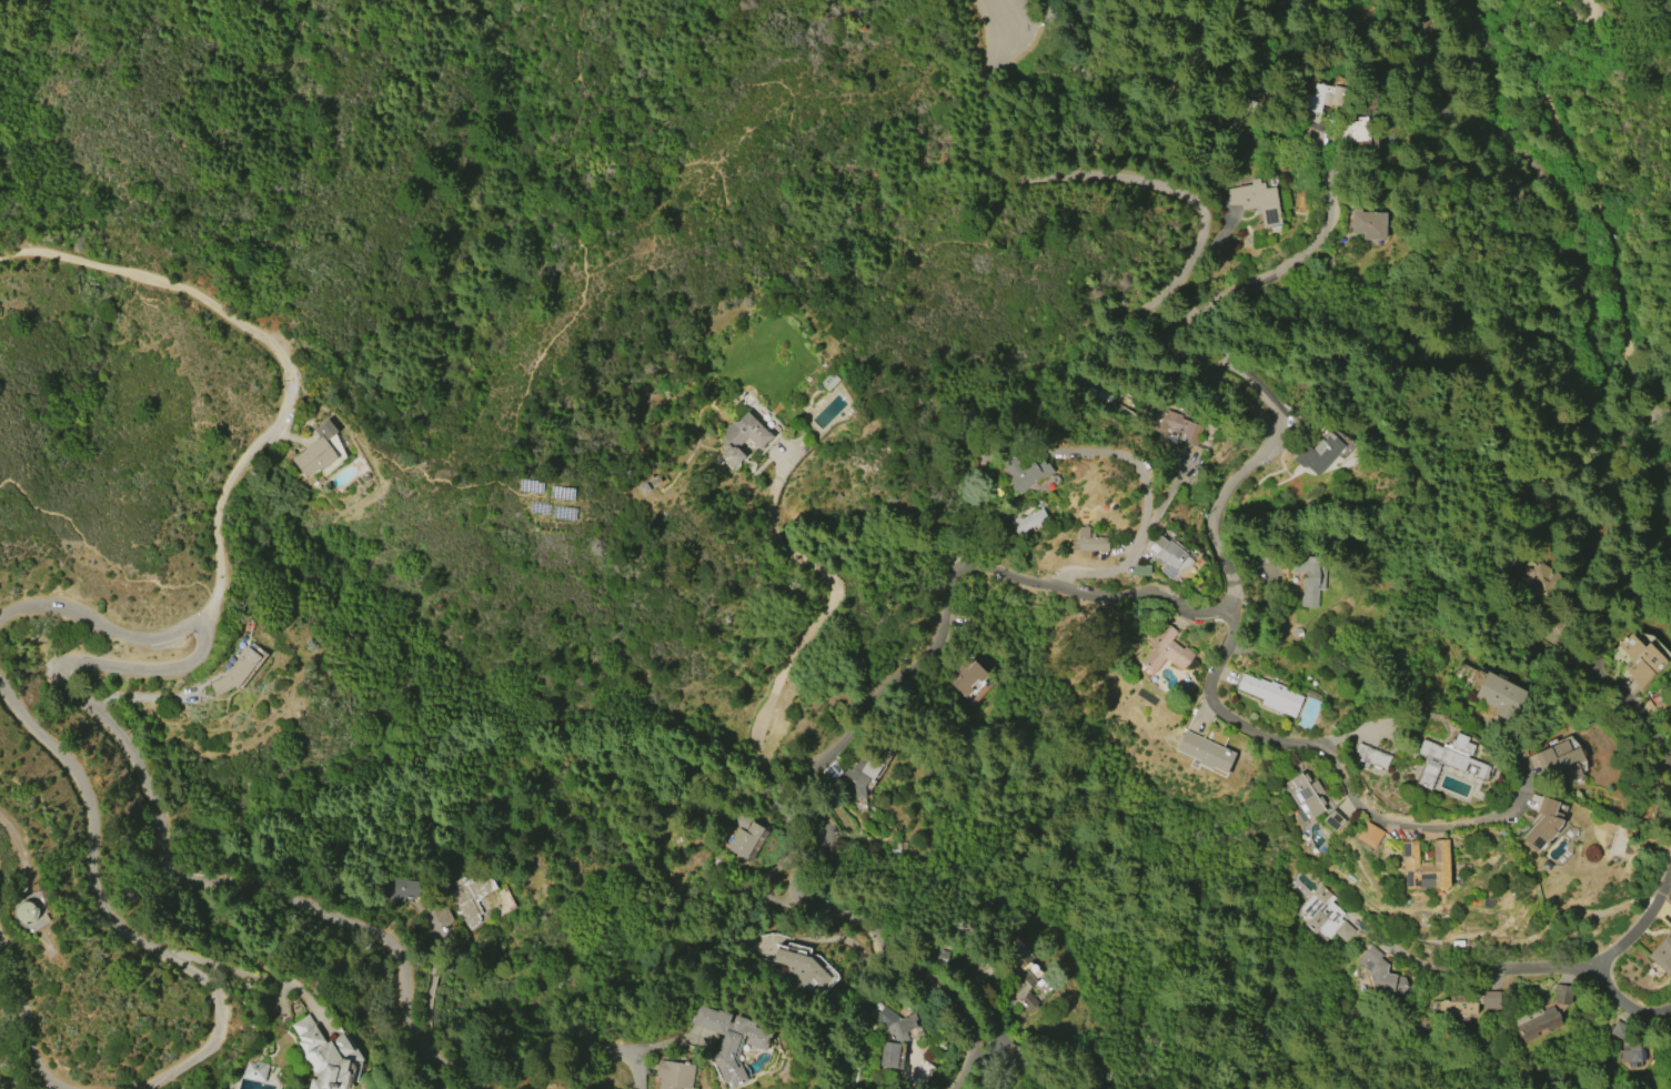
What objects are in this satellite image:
road: (1579, 17)
building: (1325, 98)
building: (1353, 134)
road: (1187, 191)
road: (1586, 200)
building: (1256, 201)
road: (1549, 206)
building: (1368, 223)
road: (1268, 275)
road: (275, 347)
building: (829, 382)
road: (529, 392)
building: (1171, 425)
building: (742, 438)
building: (1316, 453)
building: (323, 456)
road: (1135, 465)
building: (1023, 473)
building: (648, 483)
building: (1027, 521)
building: (1090, 540)
road: (1139, 543)
road: (99, 554)
building: (1167, 556)
building: (1259, 556)
building: (1140, 568)
building: (1309, 576)
road: (100, 622)
road: (816, 627)
road: (36, 643)
building: (1165, 651)
building: (1640, 661)
building: (235, 670)
building: (972, 682)
road: (894, 686)
building: (1270, 695)
building: (1499, 696)
building: (1663, 706)
road: (1645, 718)
road: (1387, 719)
road: (1327, 750)
building: (1204, 752)
building: (1370, 756)
building: (1448, 760)
building: (1560, 760)
building: (858, 773)
building: (1307, 795)
building: (1333, 819)
building: (1542, 824)
building: (1368, 834)
building: (744, 840)
road: (172, 859)
building: (1426, 866)
building: (396, 888)
building: (470, 897)
road: (1634, 897)
building: (1325, 915)
building: (442, 916)
road: (114, 919)
building: (1663, 952)
road: (1423, 961)
road: (224, 962)
road: (1586, 966)
building: (802, 968)
building: (979, 972)
building: (1380, 972)
building: (1020, 978)
building: (1562, 994)
building: (1492, 1000)
building: (1459, 1005)
road: (29, 1009)
building: (1537, 1022)
building: (894, 1038)
building: (731, 1040)
building: (1627, 1046)
building: (325, 1056)
road: (642, 1069)
building: (254, 1071)
building: (674, 1075)

